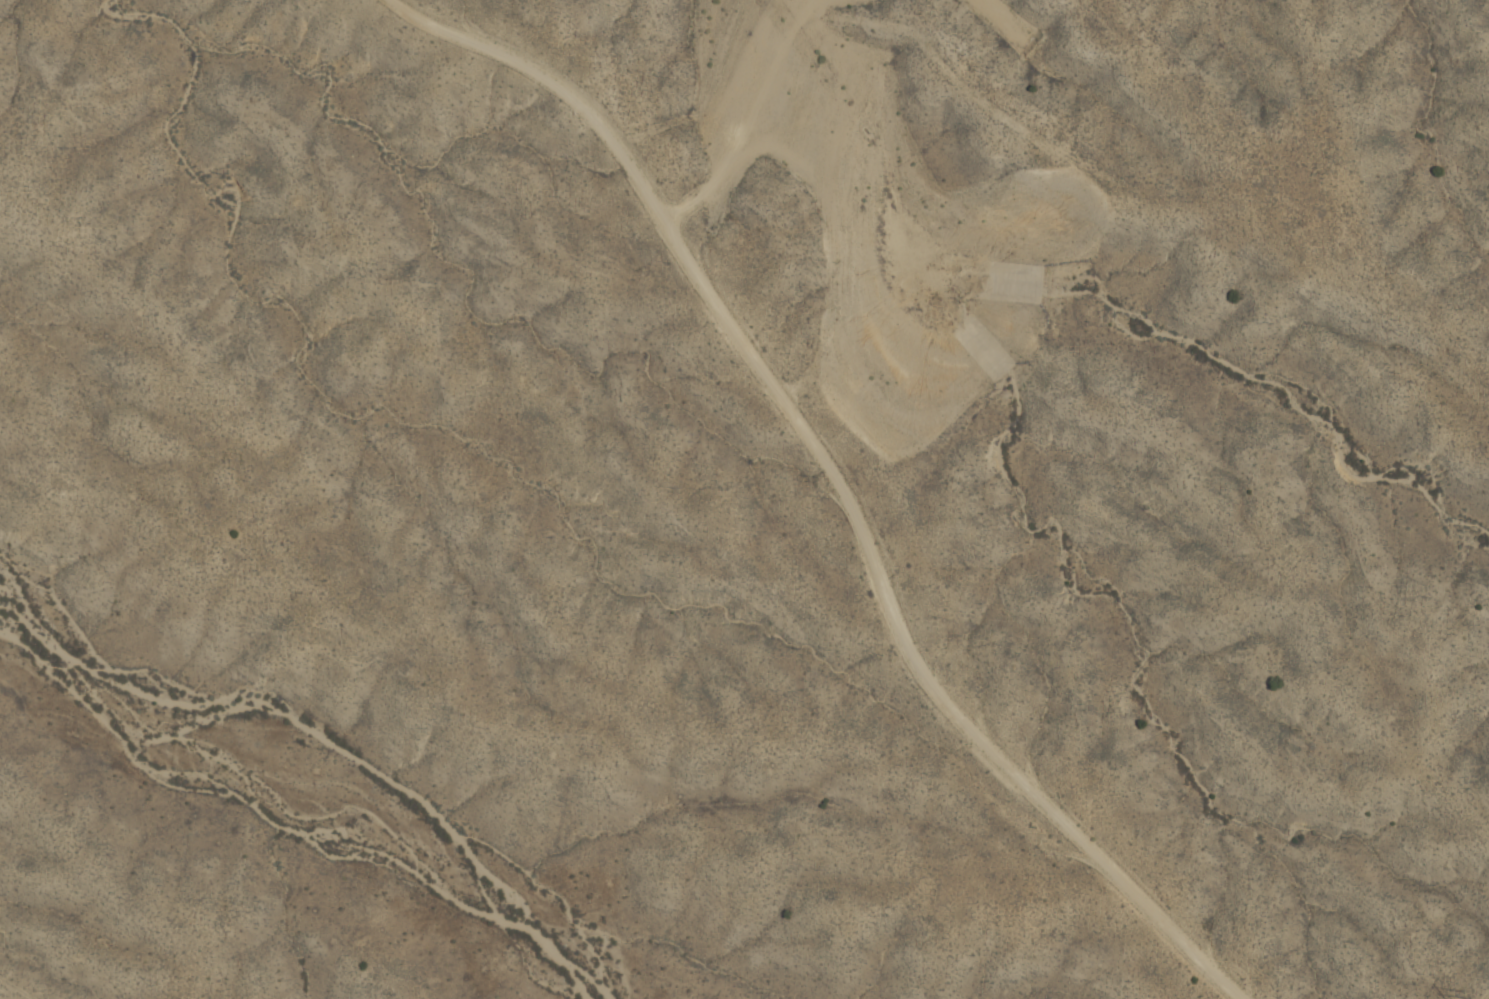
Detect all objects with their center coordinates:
road: (830, 496)
road: (20, 986)
power tower: (1476, 998)

